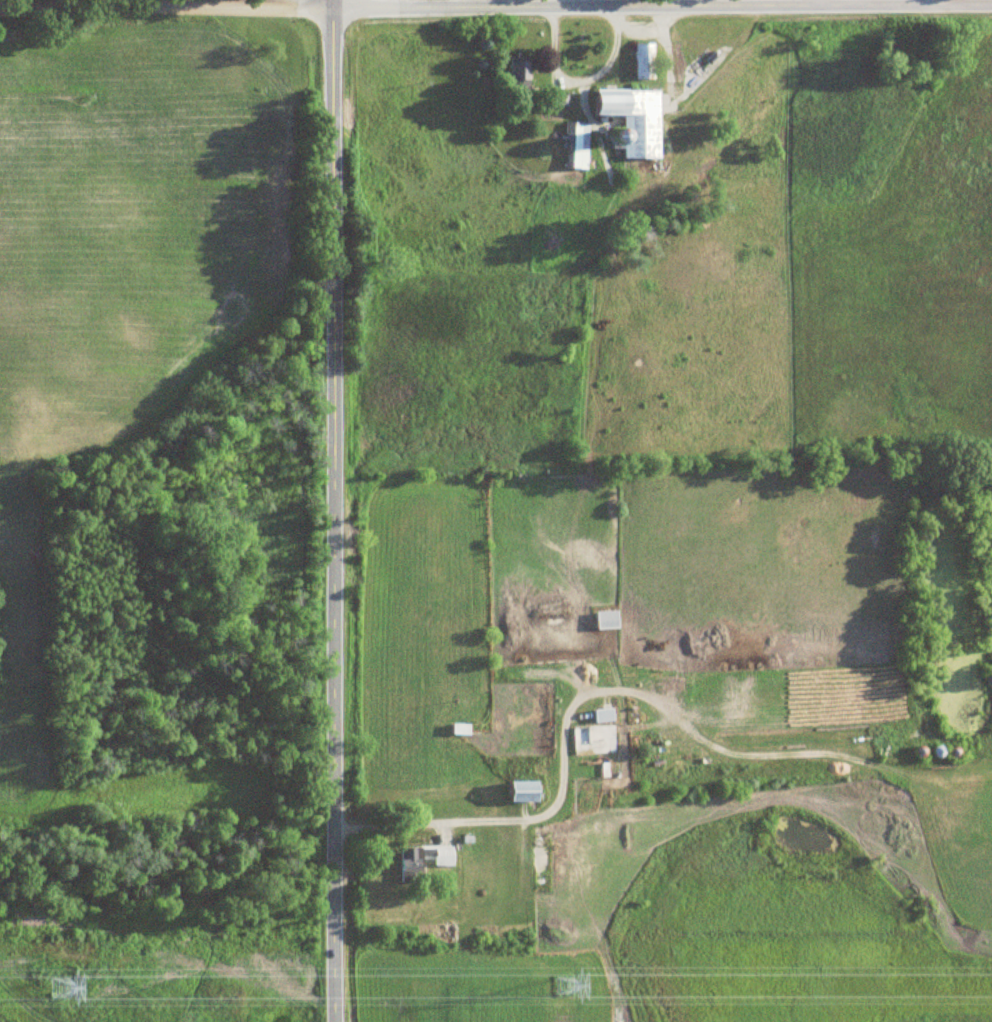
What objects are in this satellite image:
road: (686, 3)
road: (933, 3)
road: (62, 4)
road: (495, 8)
road: (644, 24)
building: (642, 62)
road: (576, 74)
building: (515, 75)
building: (555, 102)
building: (631, 120)
building: (575, 147)
road: (334, 511)
road: (584, 692)
building: (599, 716)
building: (456, 730)
building: (517, 793)
building: (419, 862)
power tower: (564, 986)
power tower: (58, 992)

